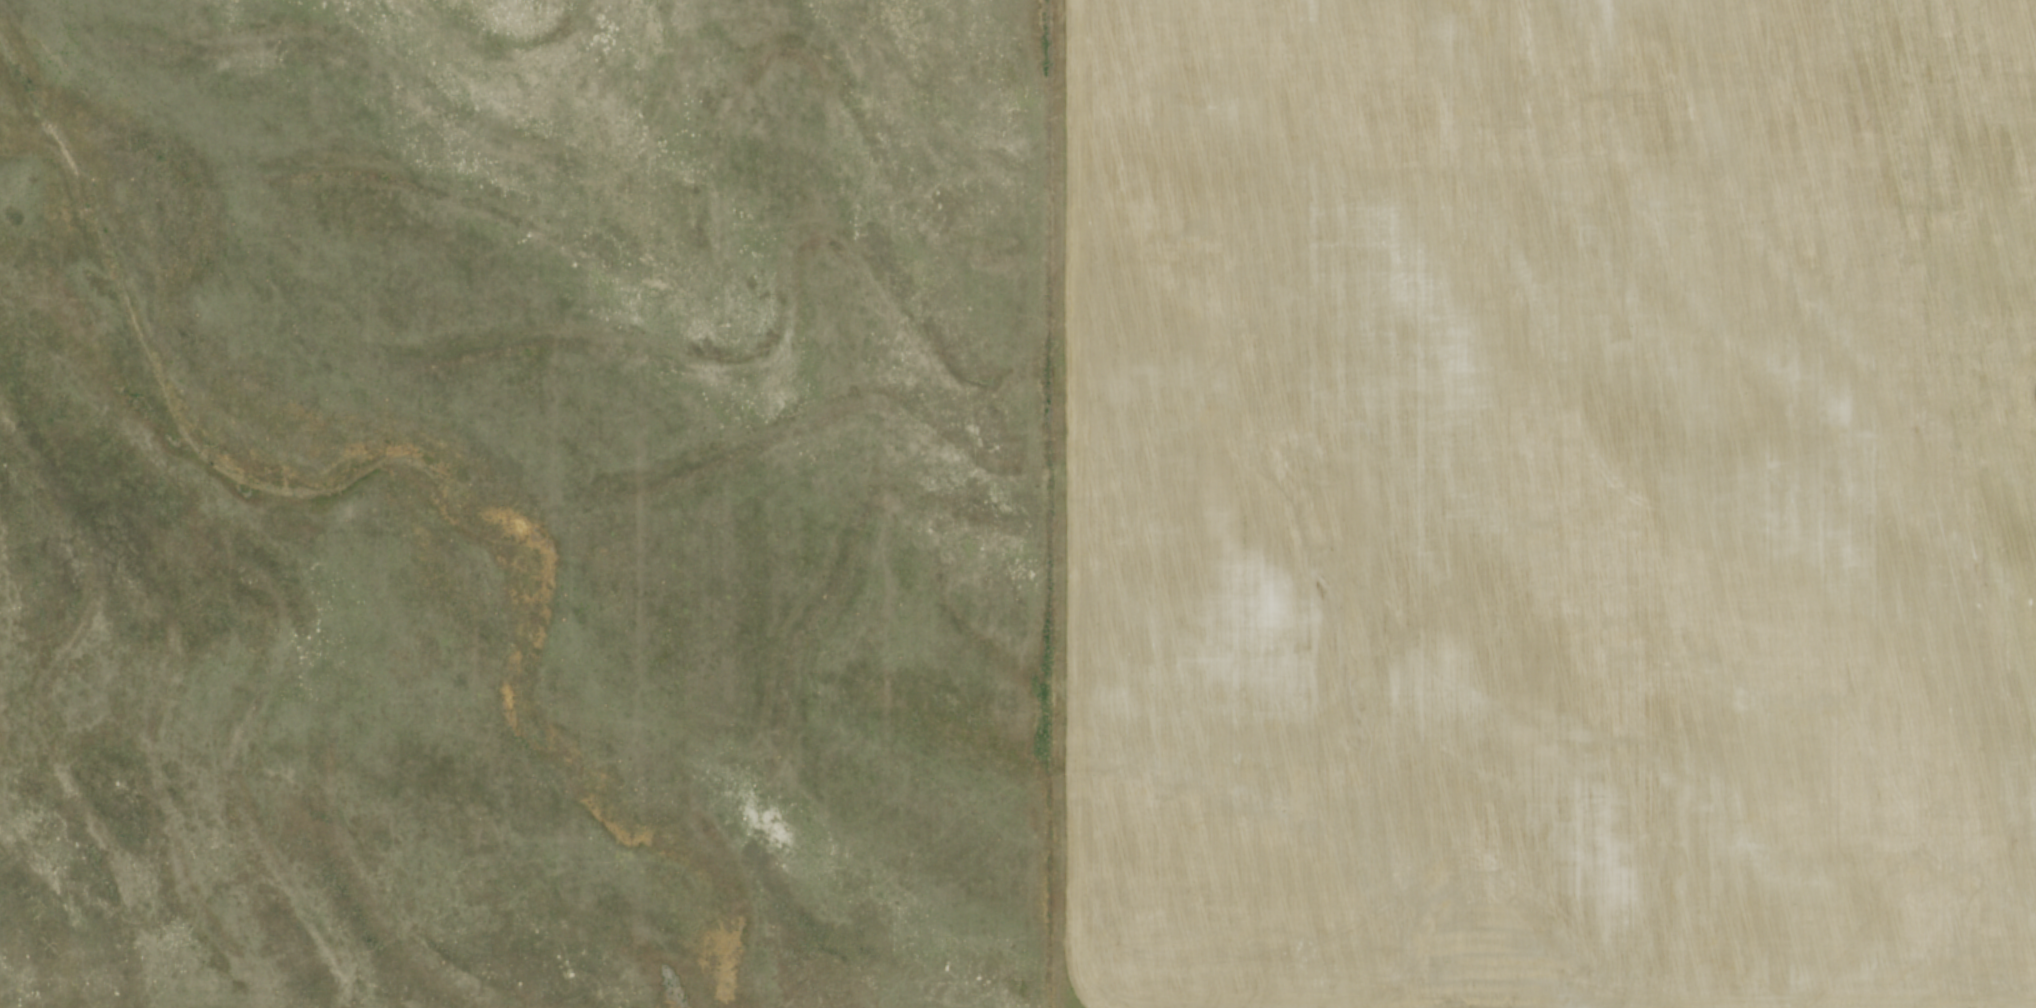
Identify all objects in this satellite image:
crop: (1548, 503)

